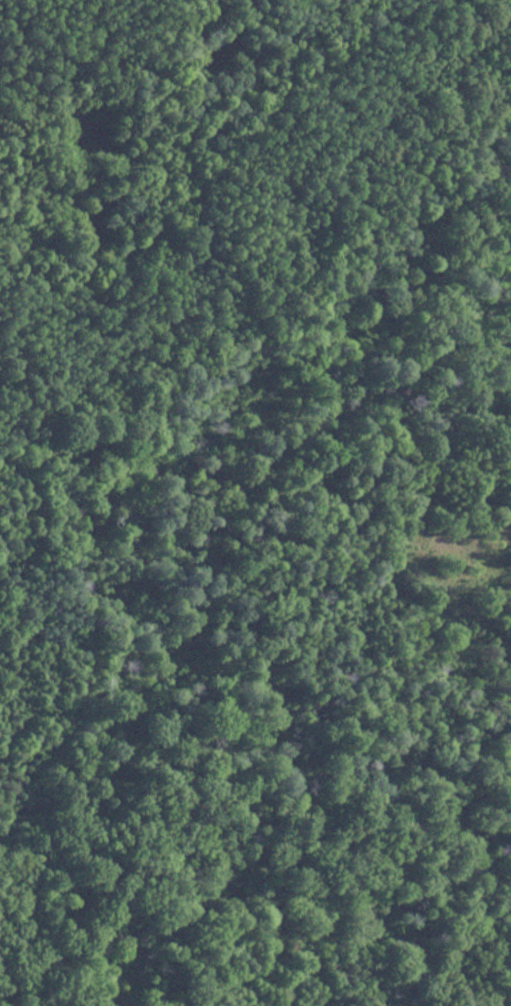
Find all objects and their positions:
park: (255, 503)

